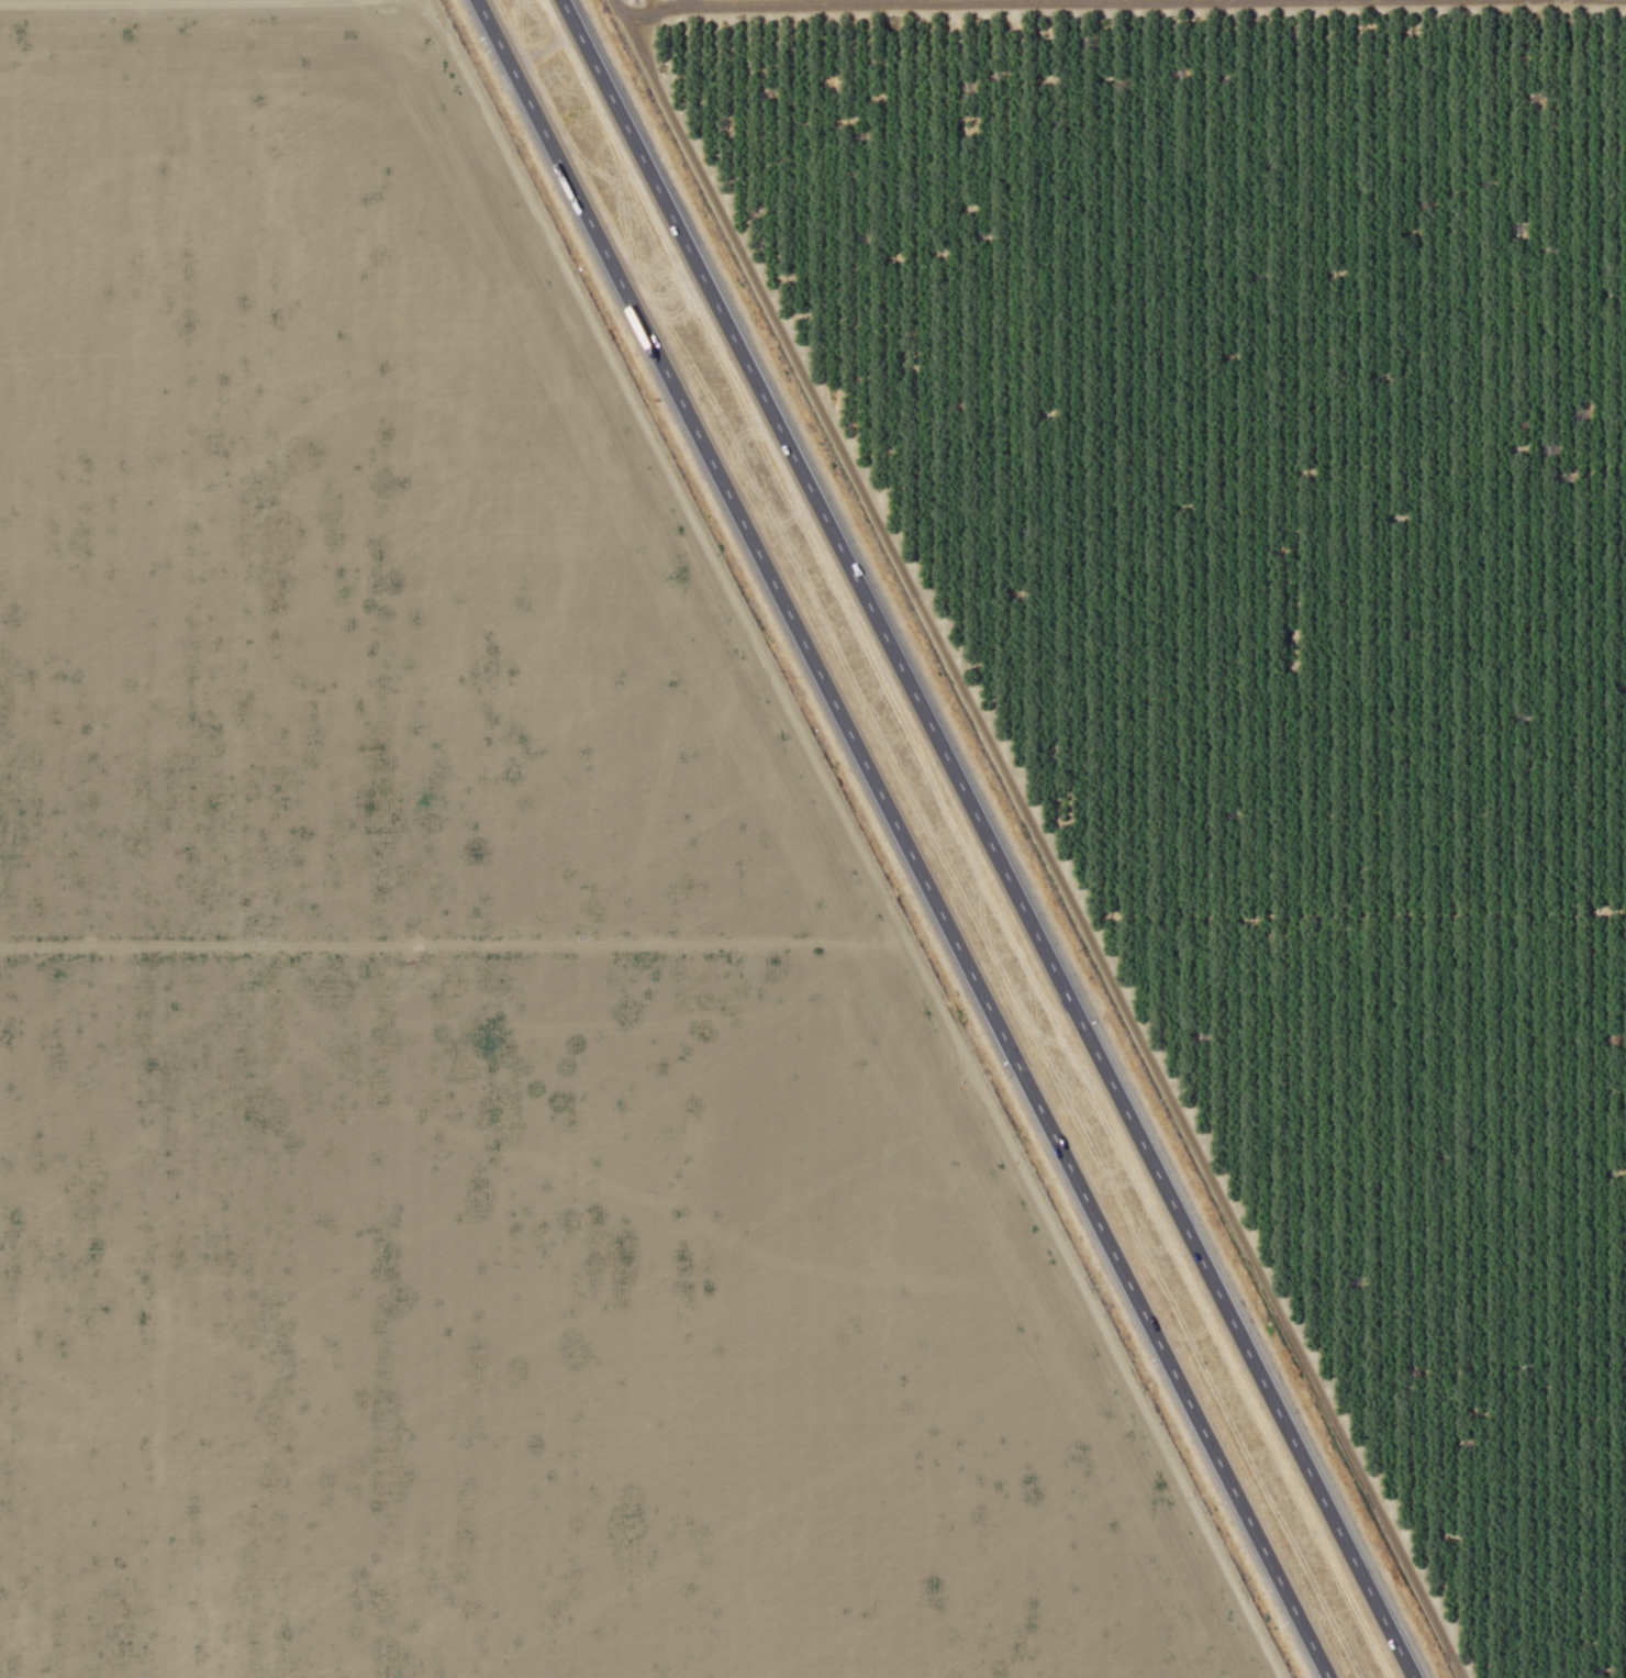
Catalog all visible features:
crop: (385, 0)
road: (199, 4)
road: (902, 838)
road: (988, 838)
crop: (447, 979)

